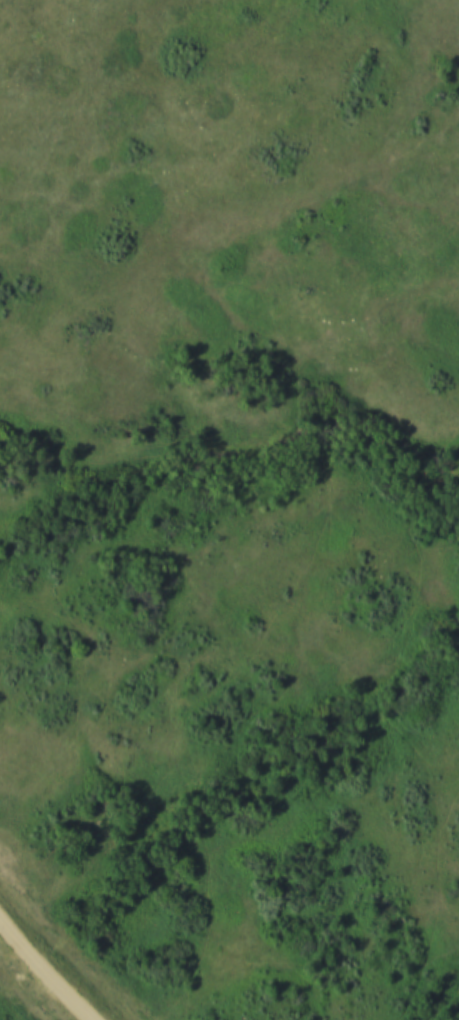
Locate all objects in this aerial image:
road: (45, 975)

